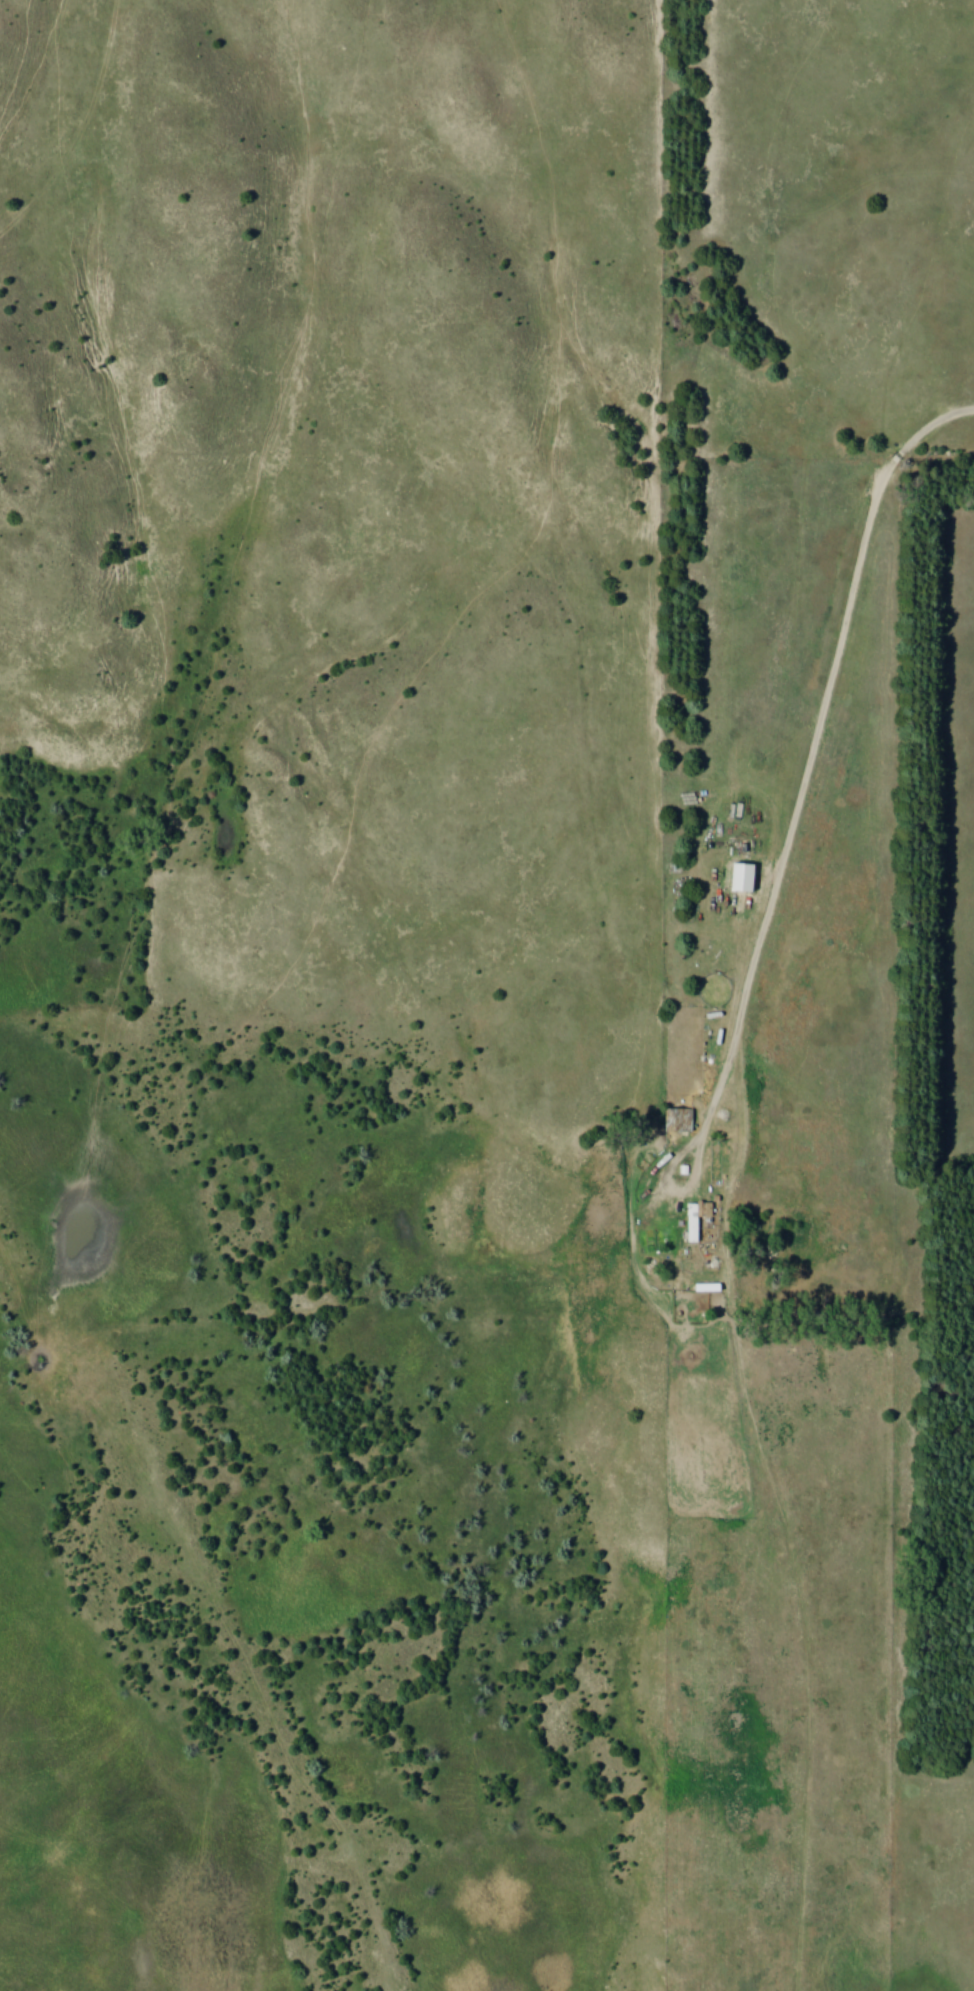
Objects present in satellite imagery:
building: (671, 1122)
building: (694, 1218)
building: (668, 1266)

